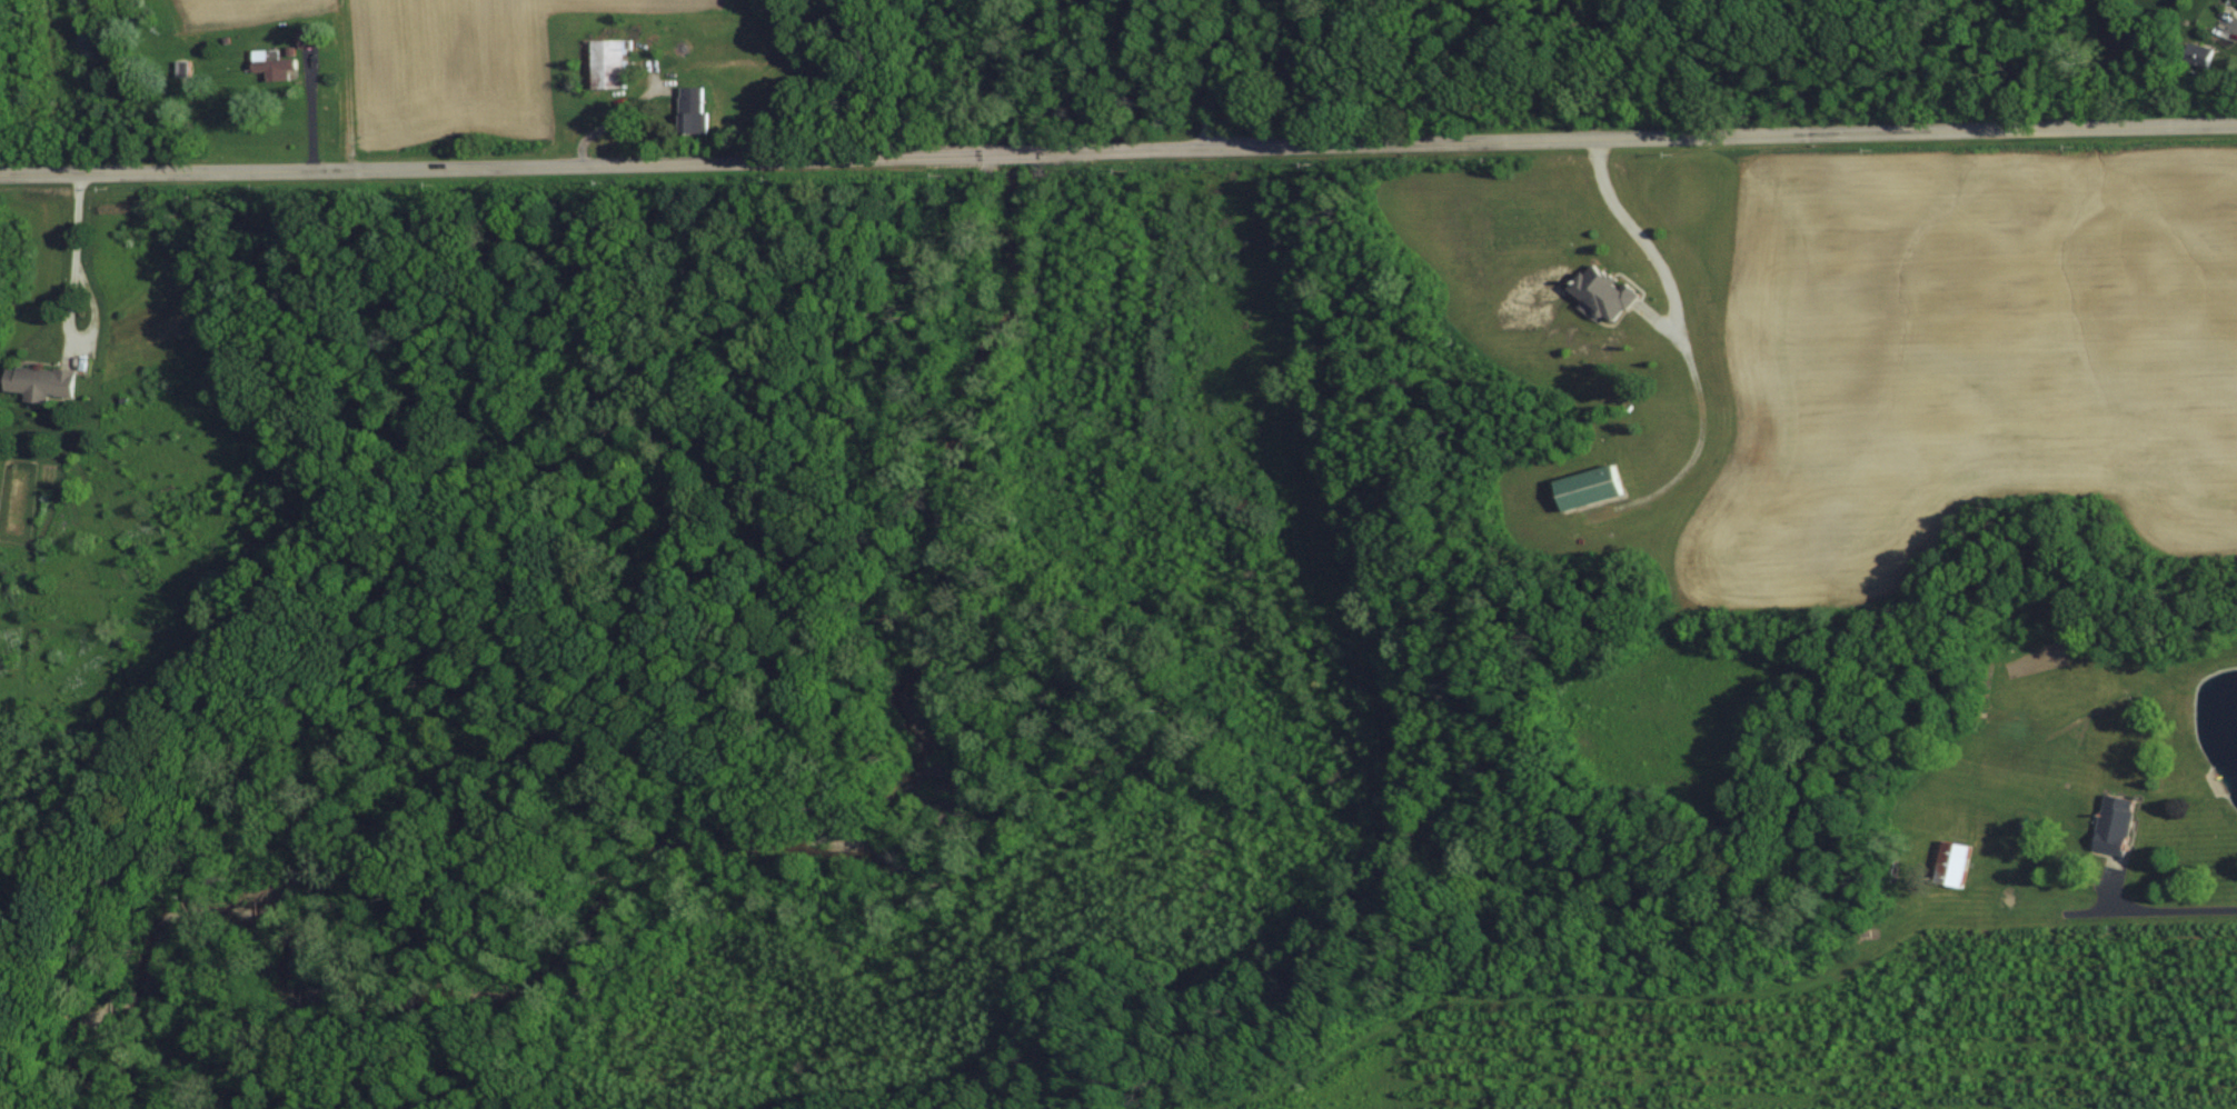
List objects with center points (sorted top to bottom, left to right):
building: (309, 37)
building: (612, 63)
building: (274, 66)
road: (1222, 72)
building: (697, 109)
road: (1118, 150)
road: (74, 243)
building: (1609, 291)
road: (1687, 342)
building: (43, 380)
building: (1593, 486)
building: (1958, 862)
road: (2168, 909)

